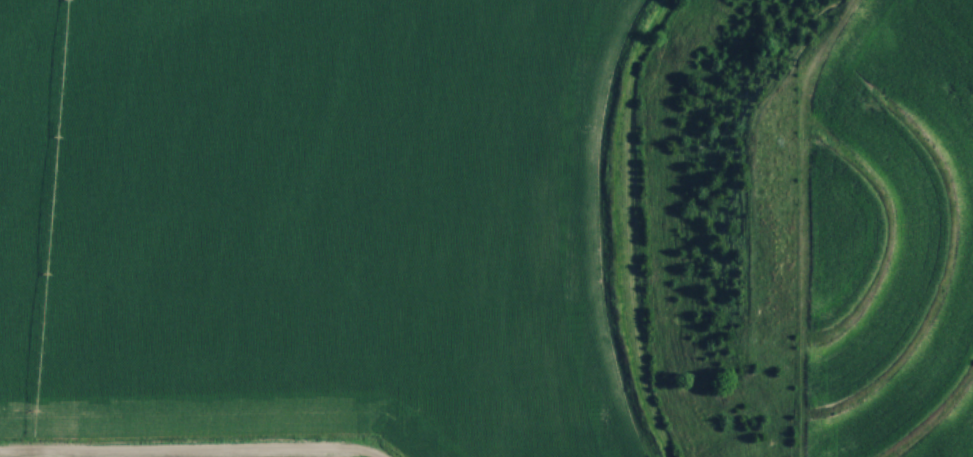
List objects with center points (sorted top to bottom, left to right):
road: (229, 456)

